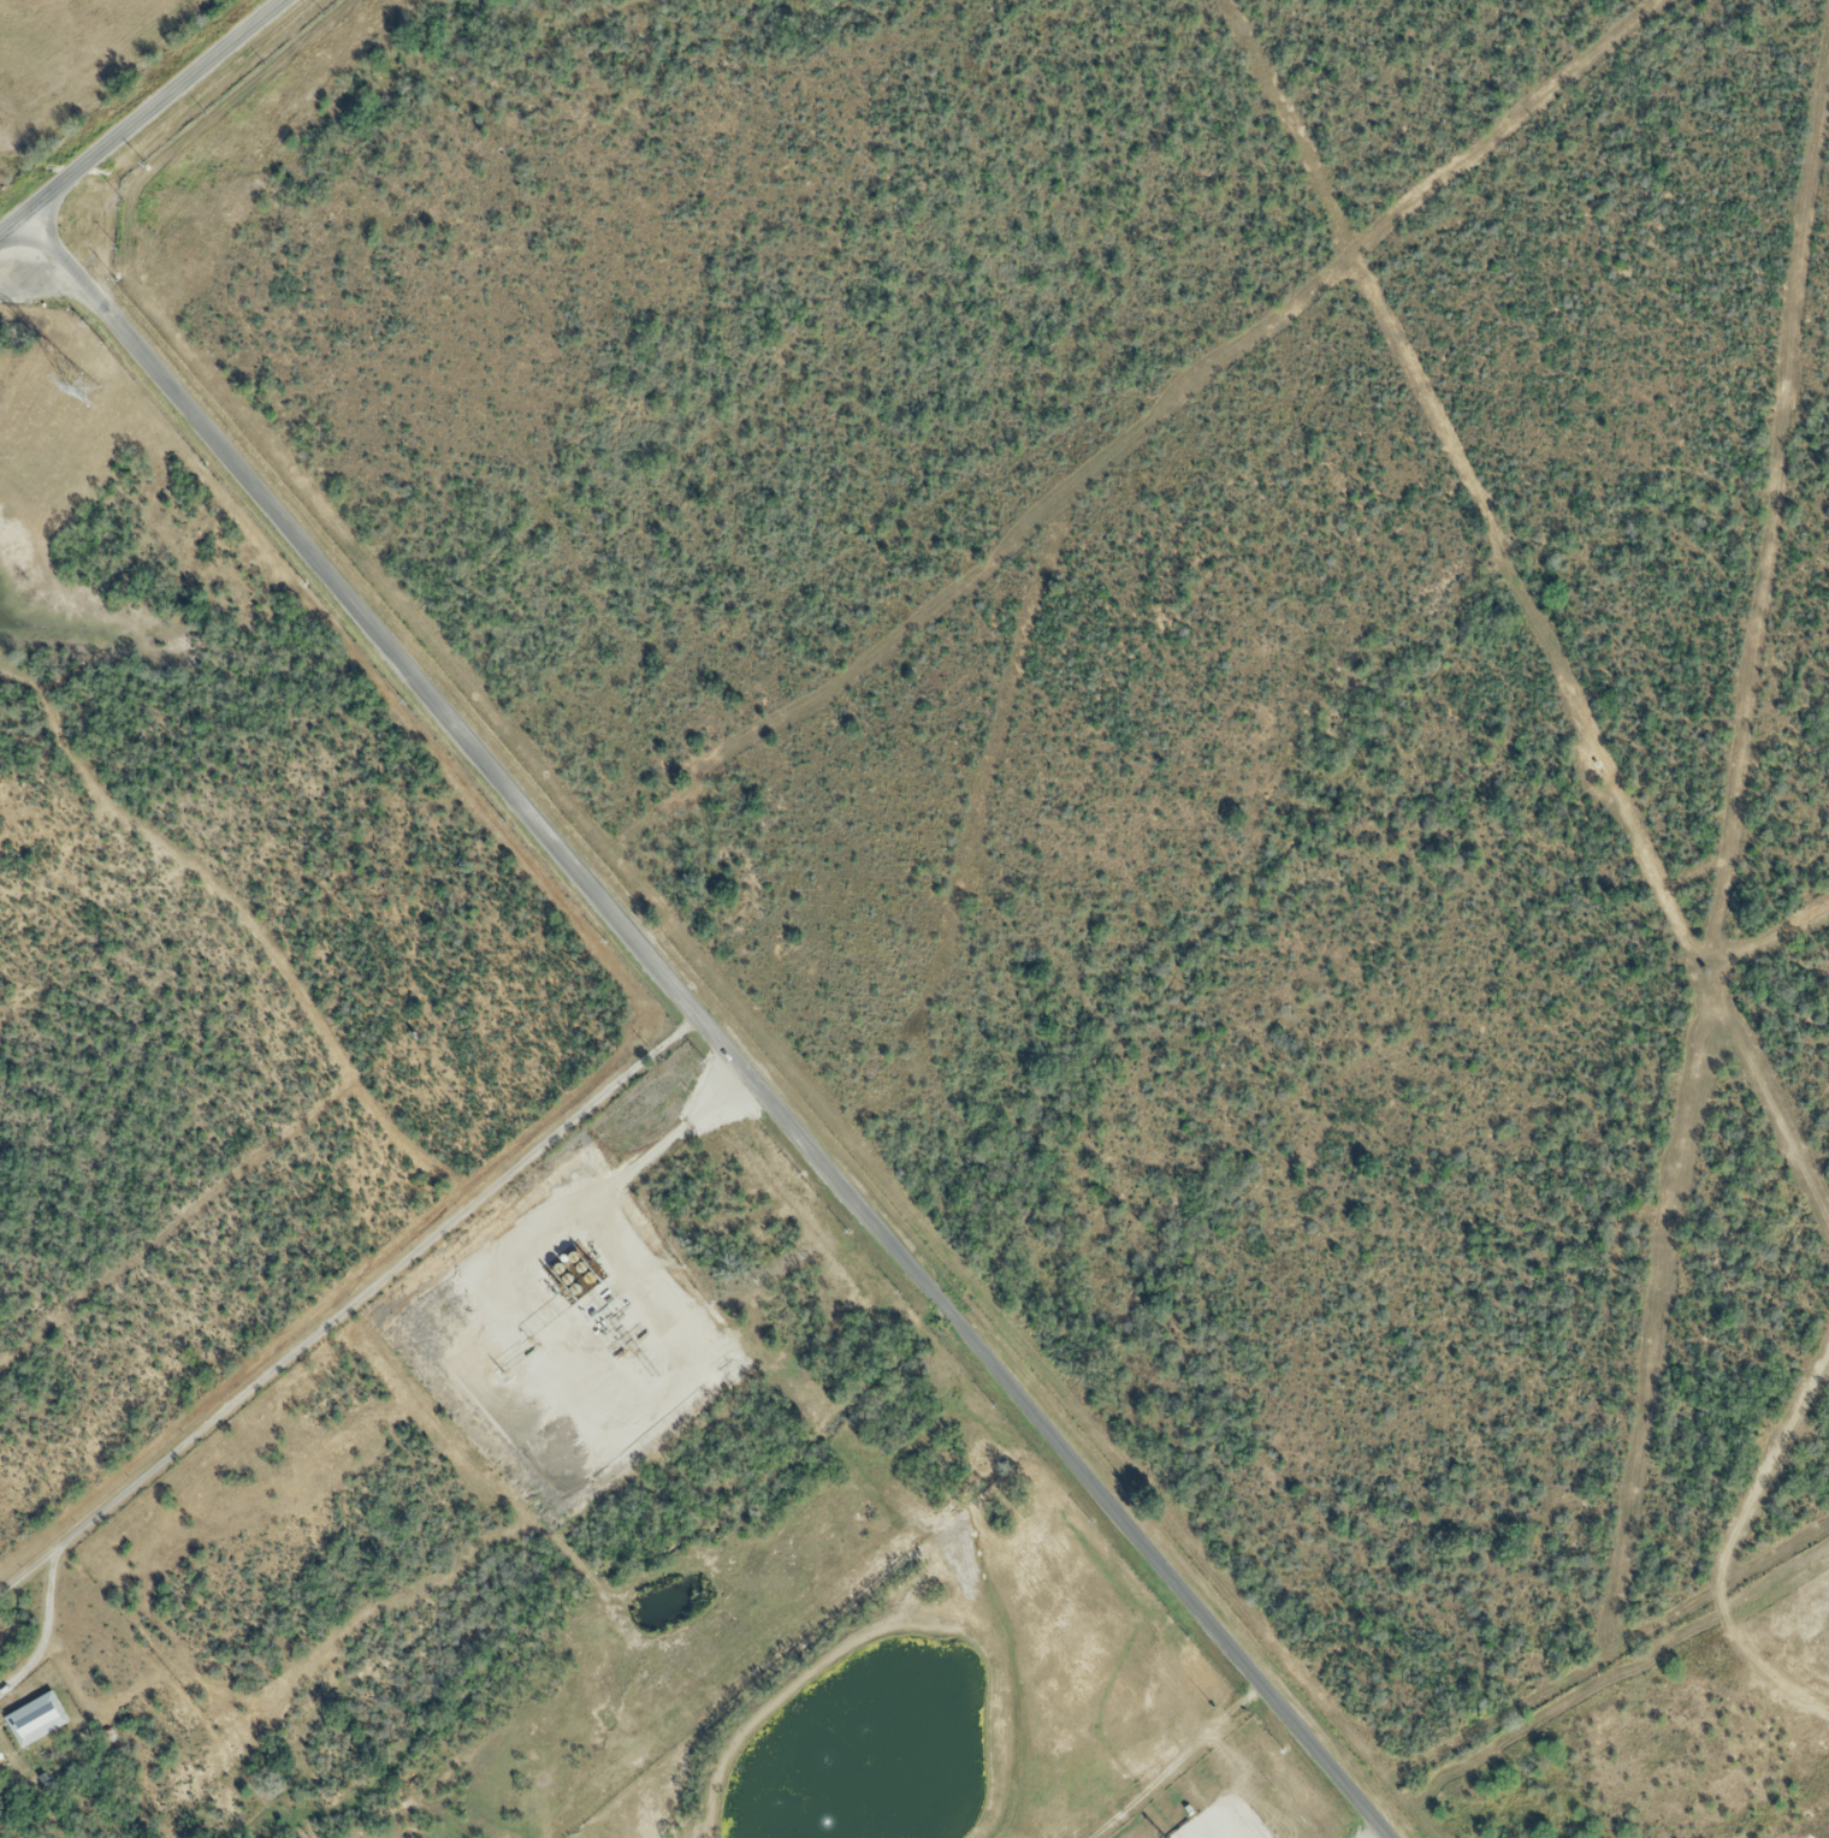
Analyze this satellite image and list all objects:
road: (143, 119)
power tower: (81, 396)
road: (716, 1019)
road: (664, 1128)
road: (339, 1308)
road: (685, 1327)
road: (1385, 1837)

